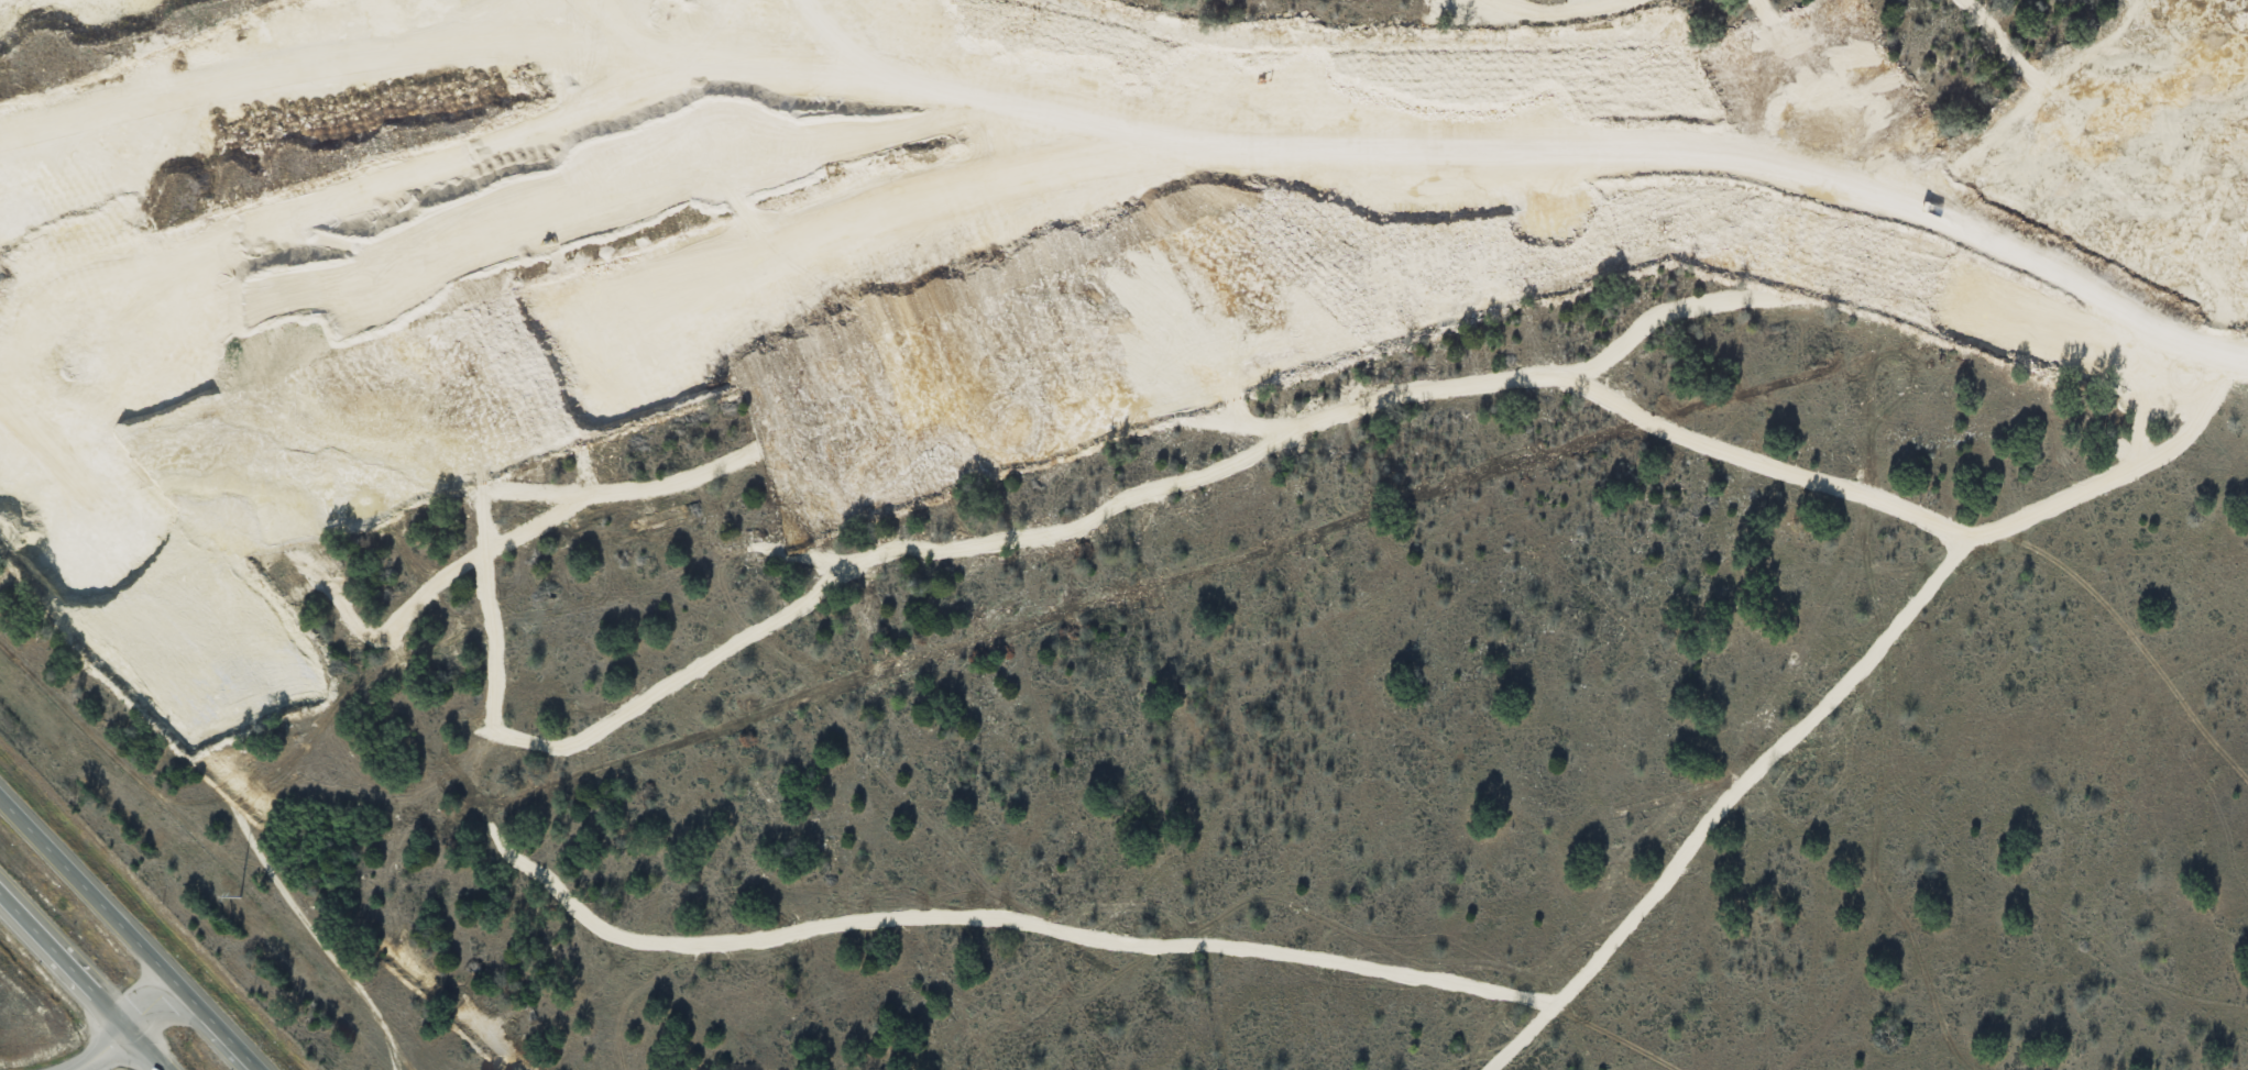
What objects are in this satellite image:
road: (1785, 170)
road: (1153, 421)
power tower: (240, 895)
road: (130, 927)
road: (80, 984)
road: (116, 1032)

